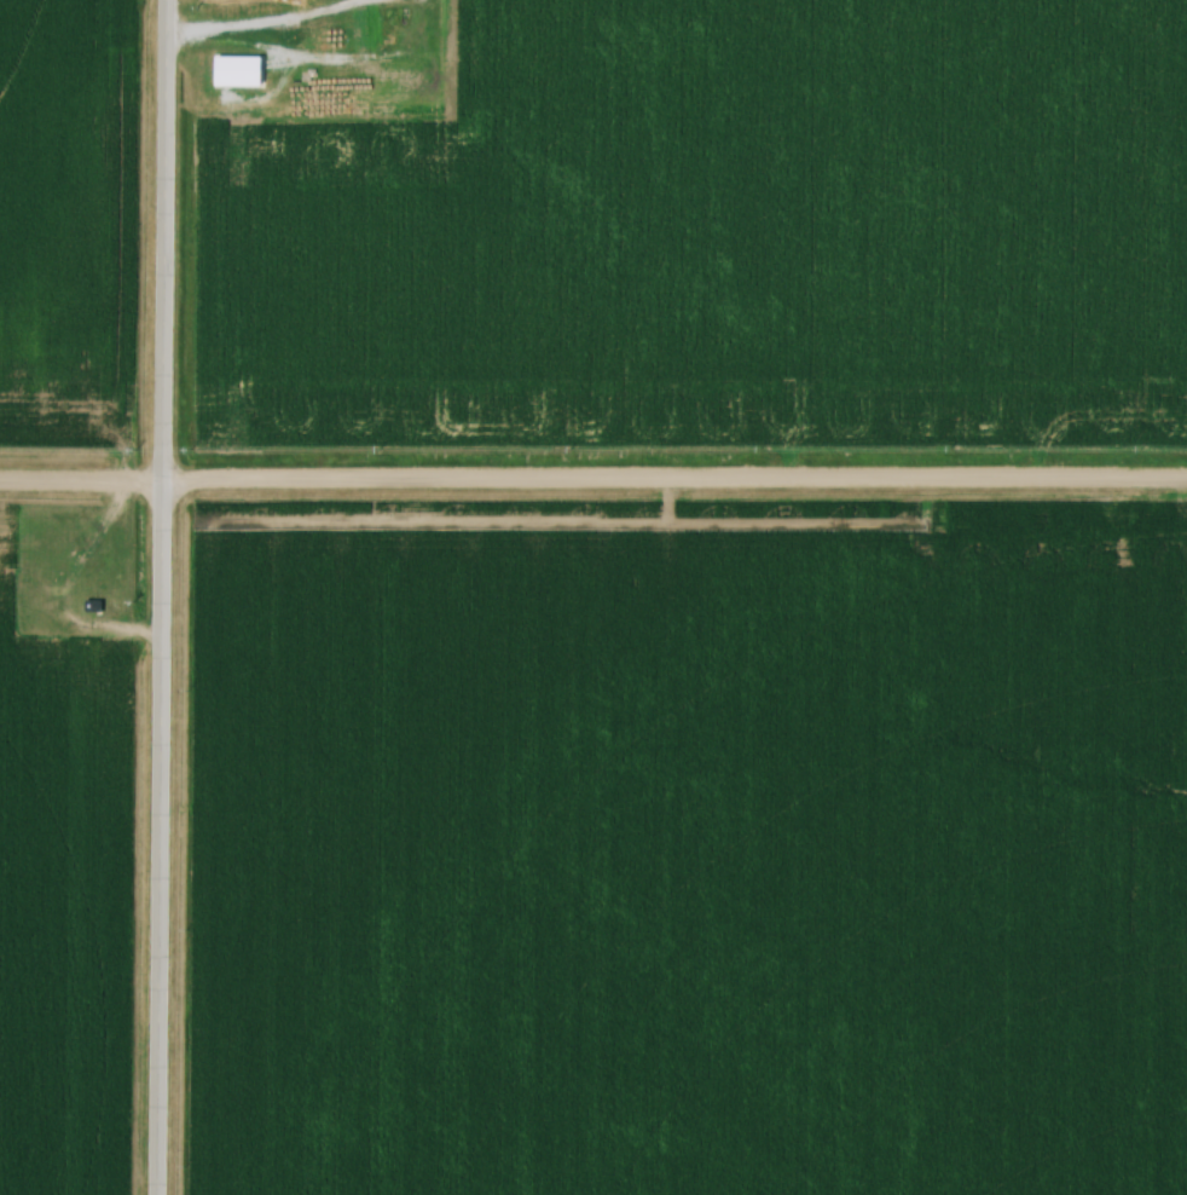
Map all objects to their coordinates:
road: (256, 33)
road: (592, 483)
road: (160, 597)
building: (99, 606)

